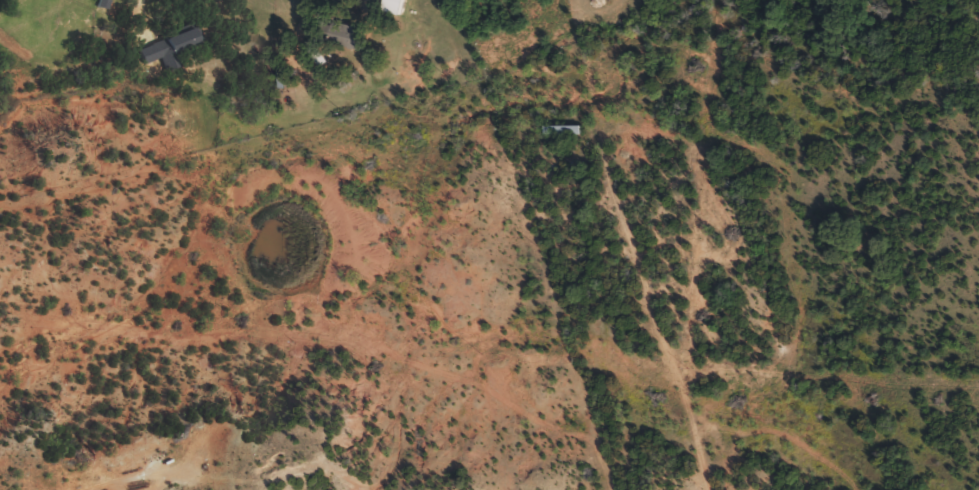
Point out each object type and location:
building: (394, 11)
building: (345, 43)
building: (169, 55)
building: (562, 137)

